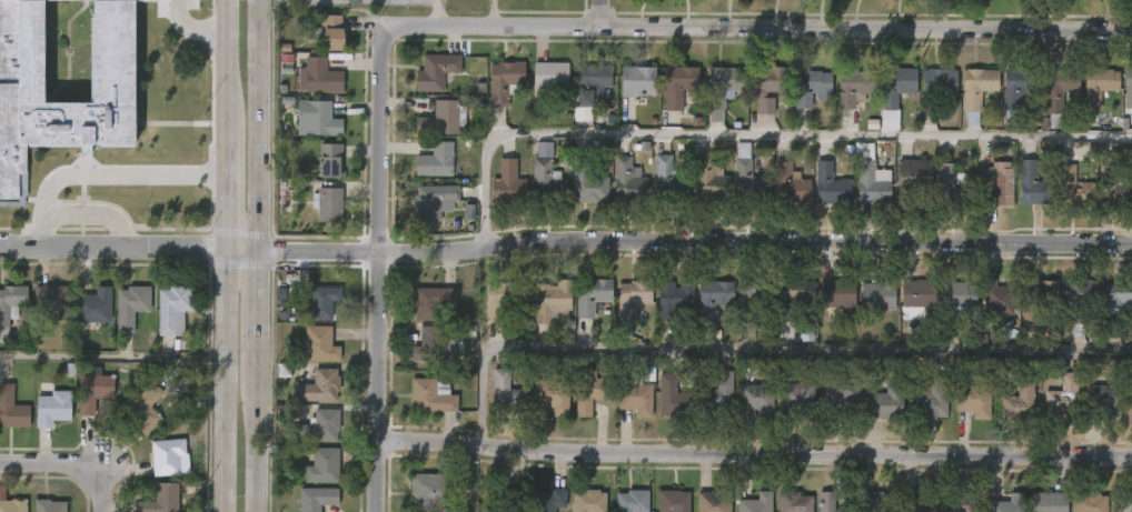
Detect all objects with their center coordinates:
building: (162, 0)
road: (435, 13)
road: (493, 13)
road: (605, 14)
road: (192, 23)
road: (749, 30)
building: (328, 33)
building: (436, 71)
building: (317, 77)
building: (550, 79)
building: (637, 81)
building: (503, 82)
building: (593, 82)
building: (941, 82)
building: (679, 86)
building: (769, 86)
building: (1100, 86)
building: (856, 87)
building: (898, 87)
building: (1060, 87)
building: (813, 88)
building: (1128, 88)
building: (723, 90)
building: (1020, 91)
building: (975, 92)
building: (444, 118)
building: (315, 119)
building: (888, 120)
building: (68, 122)
road: (220, 122)
road: (264, 124)
road: (758, 134)
building: (437, 160)
building: (328, 162)
road: (103, 173)
building: (747, 175)
building: (913, 177)
building: (870, 178)
building: (708, 180)
building: (626, 182)
building: (667, 182)
building: (546, 183)
building: (997, 183)
building: (506, 184)
building: (586, 184)
building: (1032, 184)
building: (790, 185)
building: (830, 185)
building: (952, 187)
building: (1073, 189)
building: (1113, 189)
building: (433, 201)
building: (326, 205)
road: (88, 212)
road: (697, 239)
road: (110, 243)
road: (241, 245)
road: (378, 281)
building: (837, 293)
building: (877, 293)
building: (917, 293)
building: (592, 294)
building: (793, 295)
building: (1036, 295)
building: (672, 297)
building: (754, 297)
building: (996, 297)
building: (502, 298)
building: (630, 298)
building: (714, 298)
building: (52, 300)
building: (1116, 300)
building: (429, 301)
building: (553, 301)
building: (315, 302)
building: (1079, 302)
building: (11, 304)
building: (957, 304)
building: (91, 305)
building: (128, 305)
road: (261, 305)
building: (170, 307)
road: (220, 313)
building: (317, 343)
building: (430, 343)
road: (759, 343)
road: (110, 354)
building: (317, 386)
building: (93, 389)
building: (587, 391)
building: (836, 392)
building: (504, 393)
building: (550, 393)
building: (715, 393)
building: (430, 394)
building: (1064, 395)
building: (931, 396)
building: (634, 398)
building: (672, 398)
building: (796, 398)
building: (755, 399)
building: (973, 400)
building: (1129, 400)
building: (884, 401)
building: (1020, 401)
building: (1100, 402)
building: (52, 406)
building: (11, 408)
building: (145, 409)
building: (318, 426)
road: (258, 436)
road: (220, 446)
road: (754, 451)
building: (169, 458)
road: (64, 465)
building: (324, 466)
building: (431, 490)
building: (161, 499)
building: (317, 499)
building: (504, 499)
building: (549, 500)
building: (633, 501)
building: (674, 501)
building: (715, 501)
building: (875, 501)
building: (589, 502)
building: (794, 502)
building: (959, 502)
building: (1047, 502)
building: (1090, 502)
road: (1125, 502)
building: (11, 503)
building: (756, 503)
building: (830, 503)
building: (920, 503)
building: (1007, 503)
building: (47, 505)

